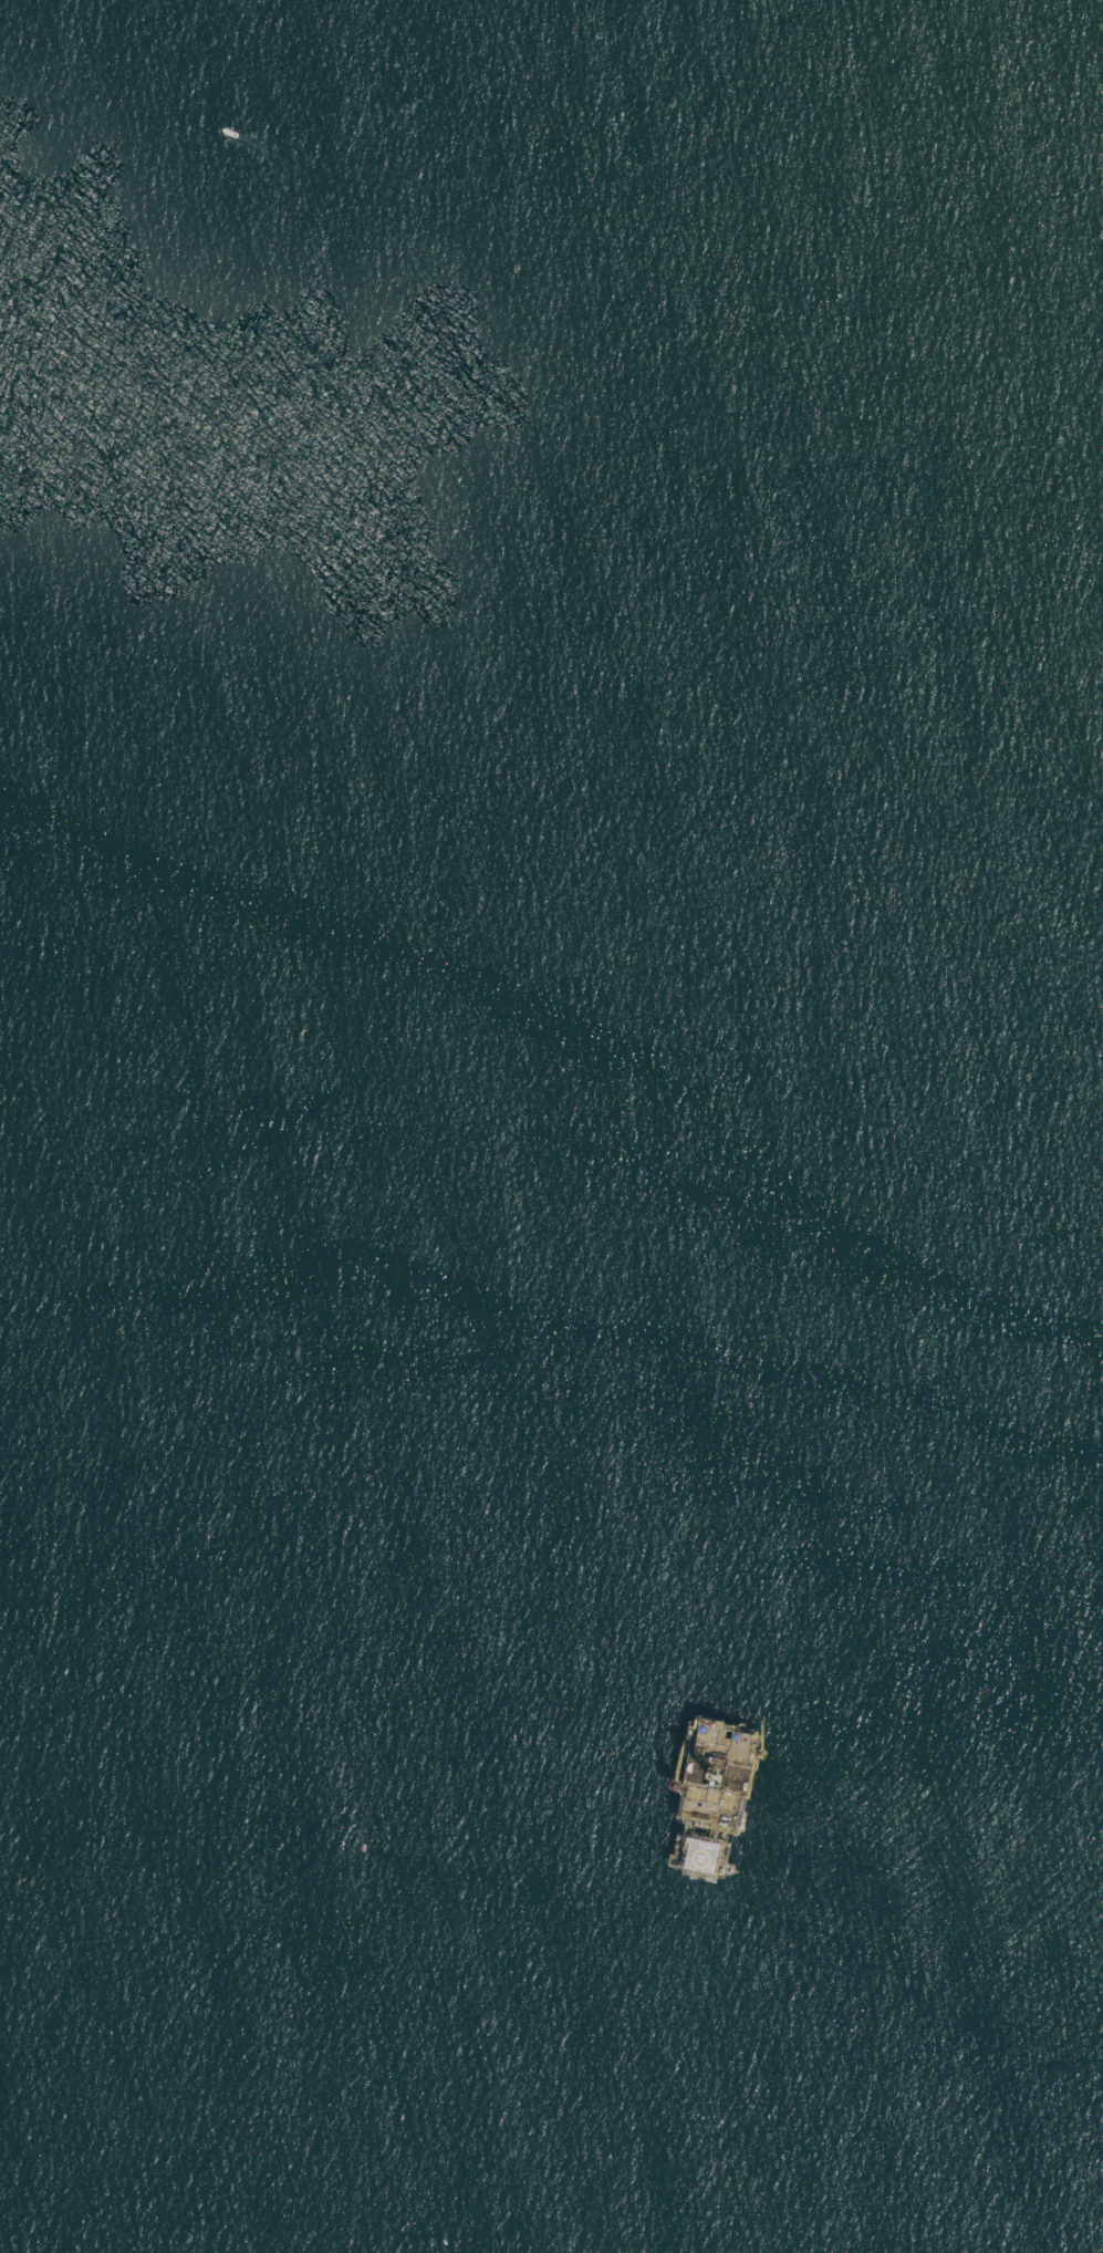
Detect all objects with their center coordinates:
offshore platform: (695, 1806)
offshore platform: (712, 1806)
building: (730, 1808)
helipad: (709, 1860)

